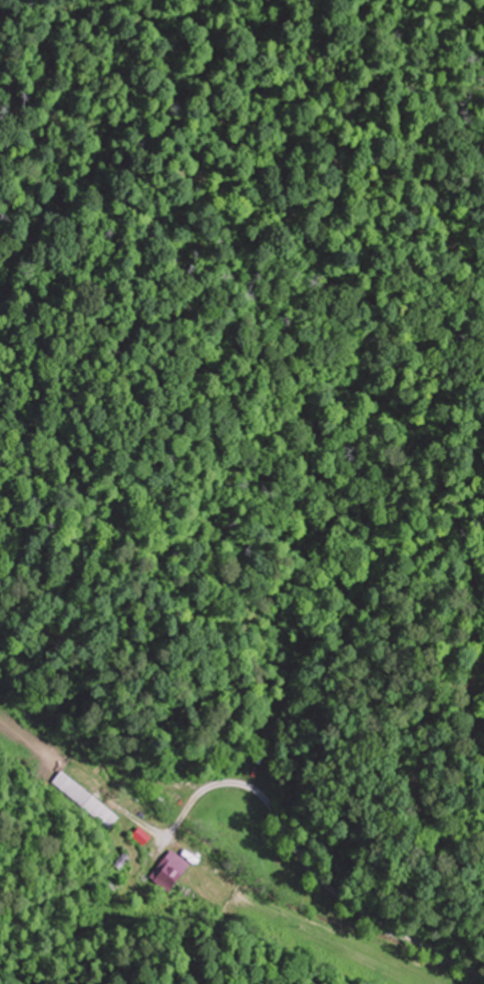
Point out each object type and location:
road: (246, 750)
building: (170, 869)

